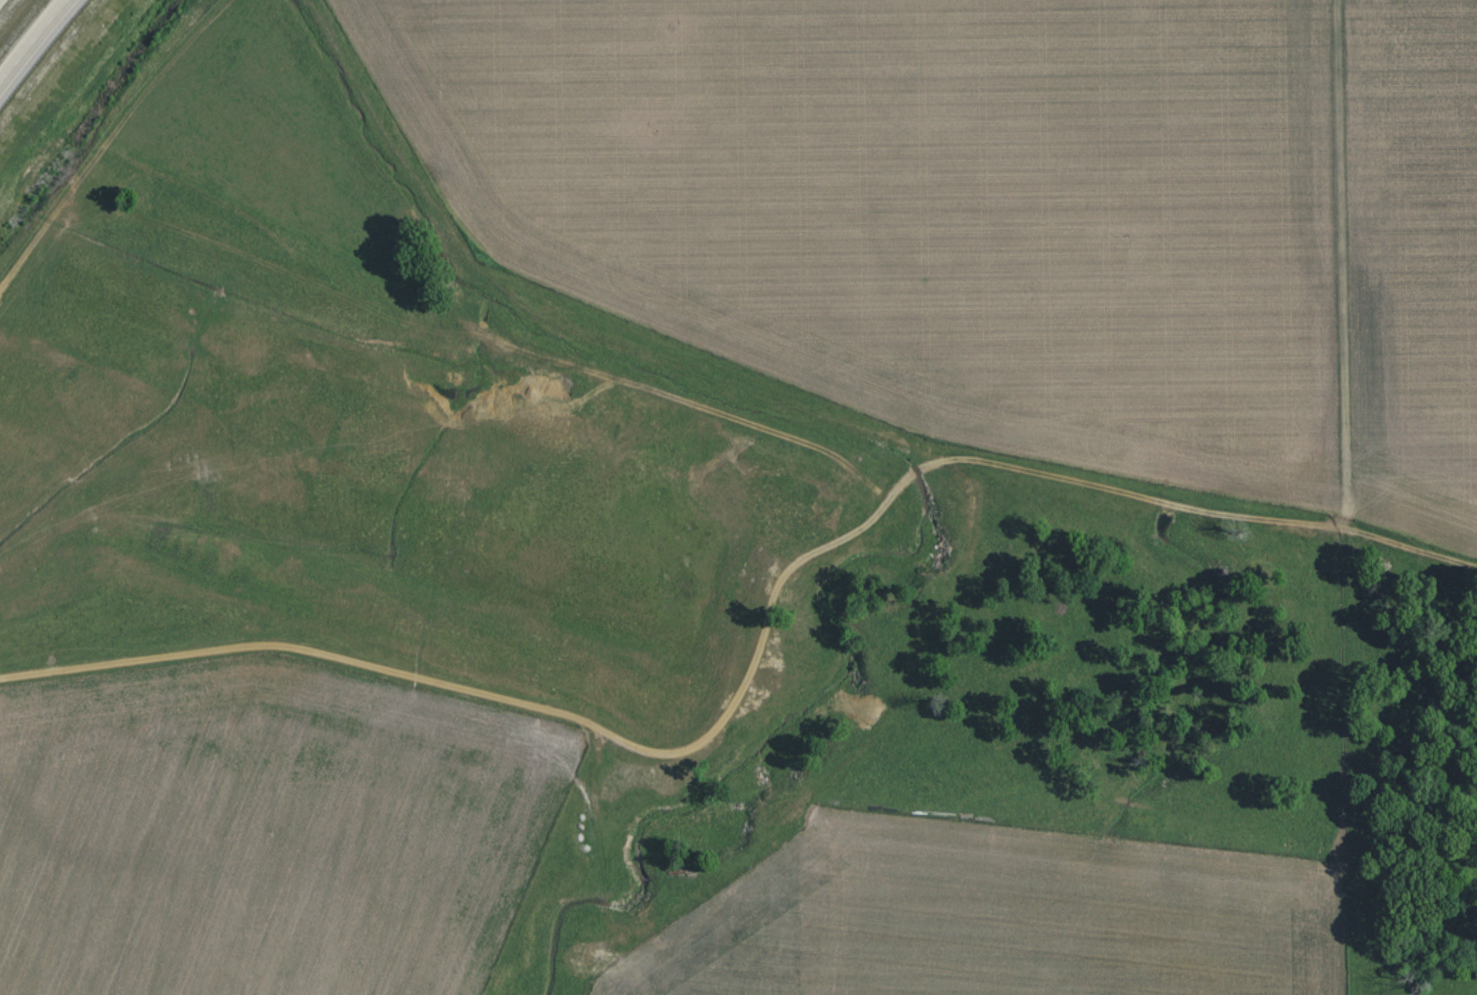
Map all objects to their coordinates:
road: (11, 12)
road: (49, 58)

